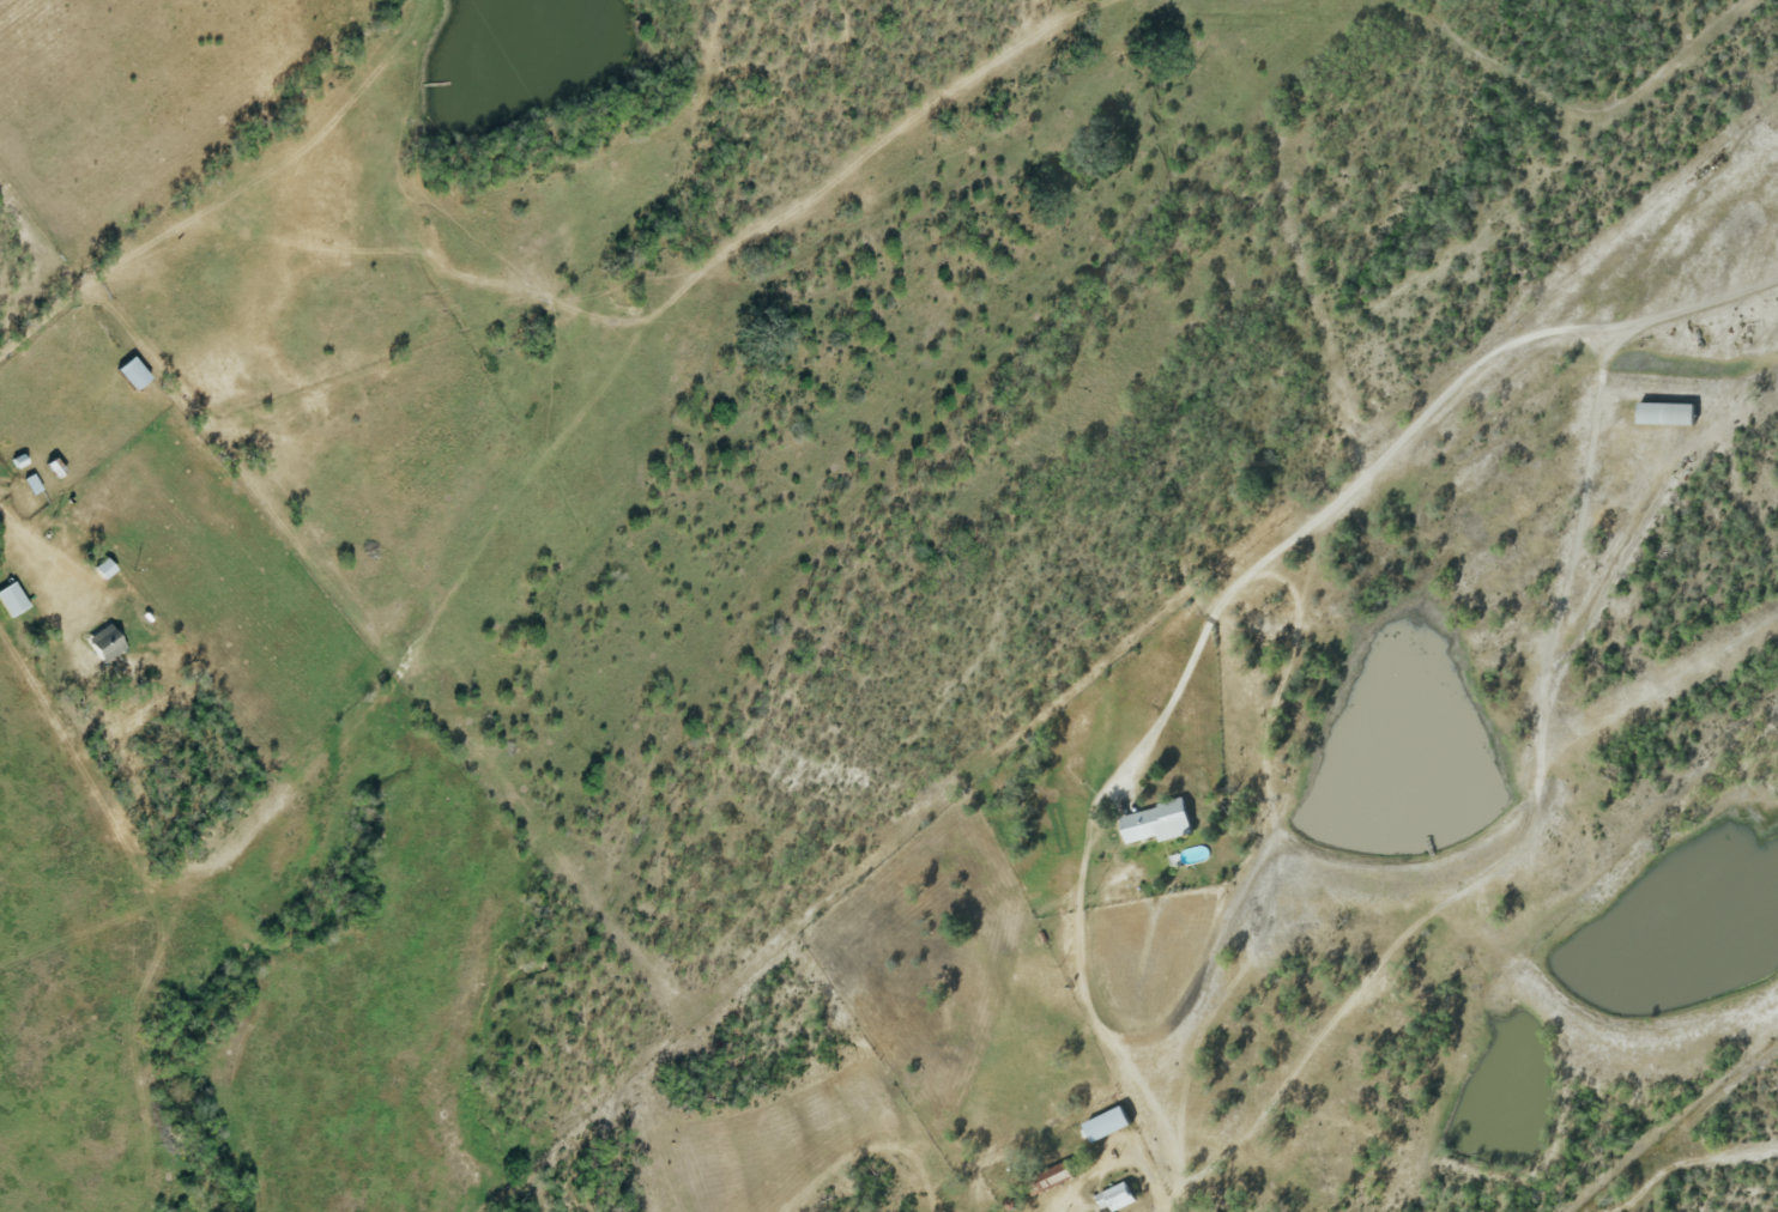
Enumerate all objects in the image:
road: (134, 262)
road: (1701, 308)
building: (127, 375)
building: (1665, 414)
building: (29, 485)
road: (1241, 589)
building: (8, 601)
building: (1156, 823)
road: (1468, 889)
building: (1105, 1125)
building: (1115, 1198)

